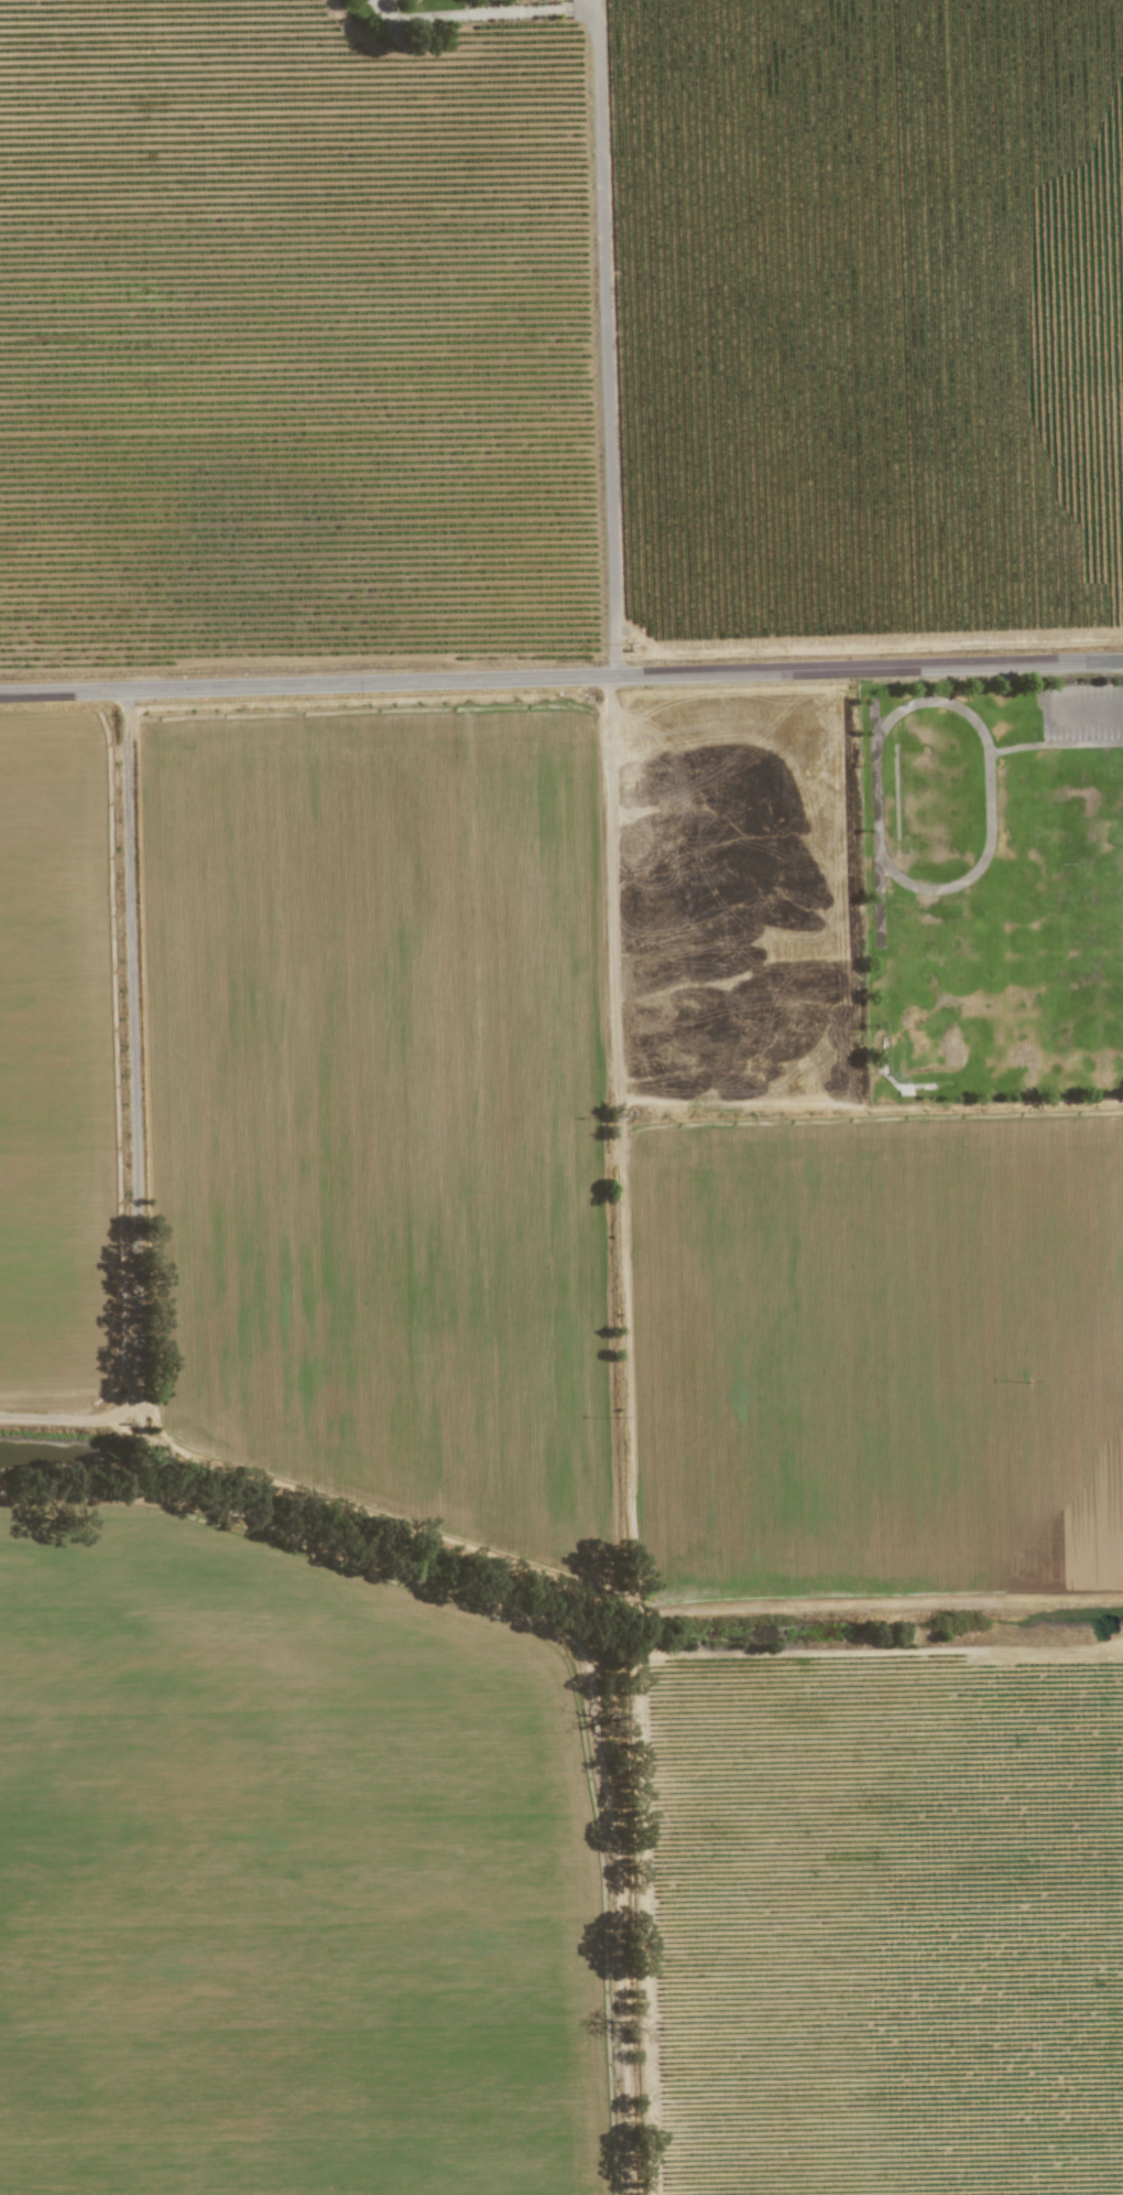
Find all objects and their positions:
road: (595, 10)
road: (492, 13)
road: (604, 347)
road: (561, 677)
road: (1087, 706)

